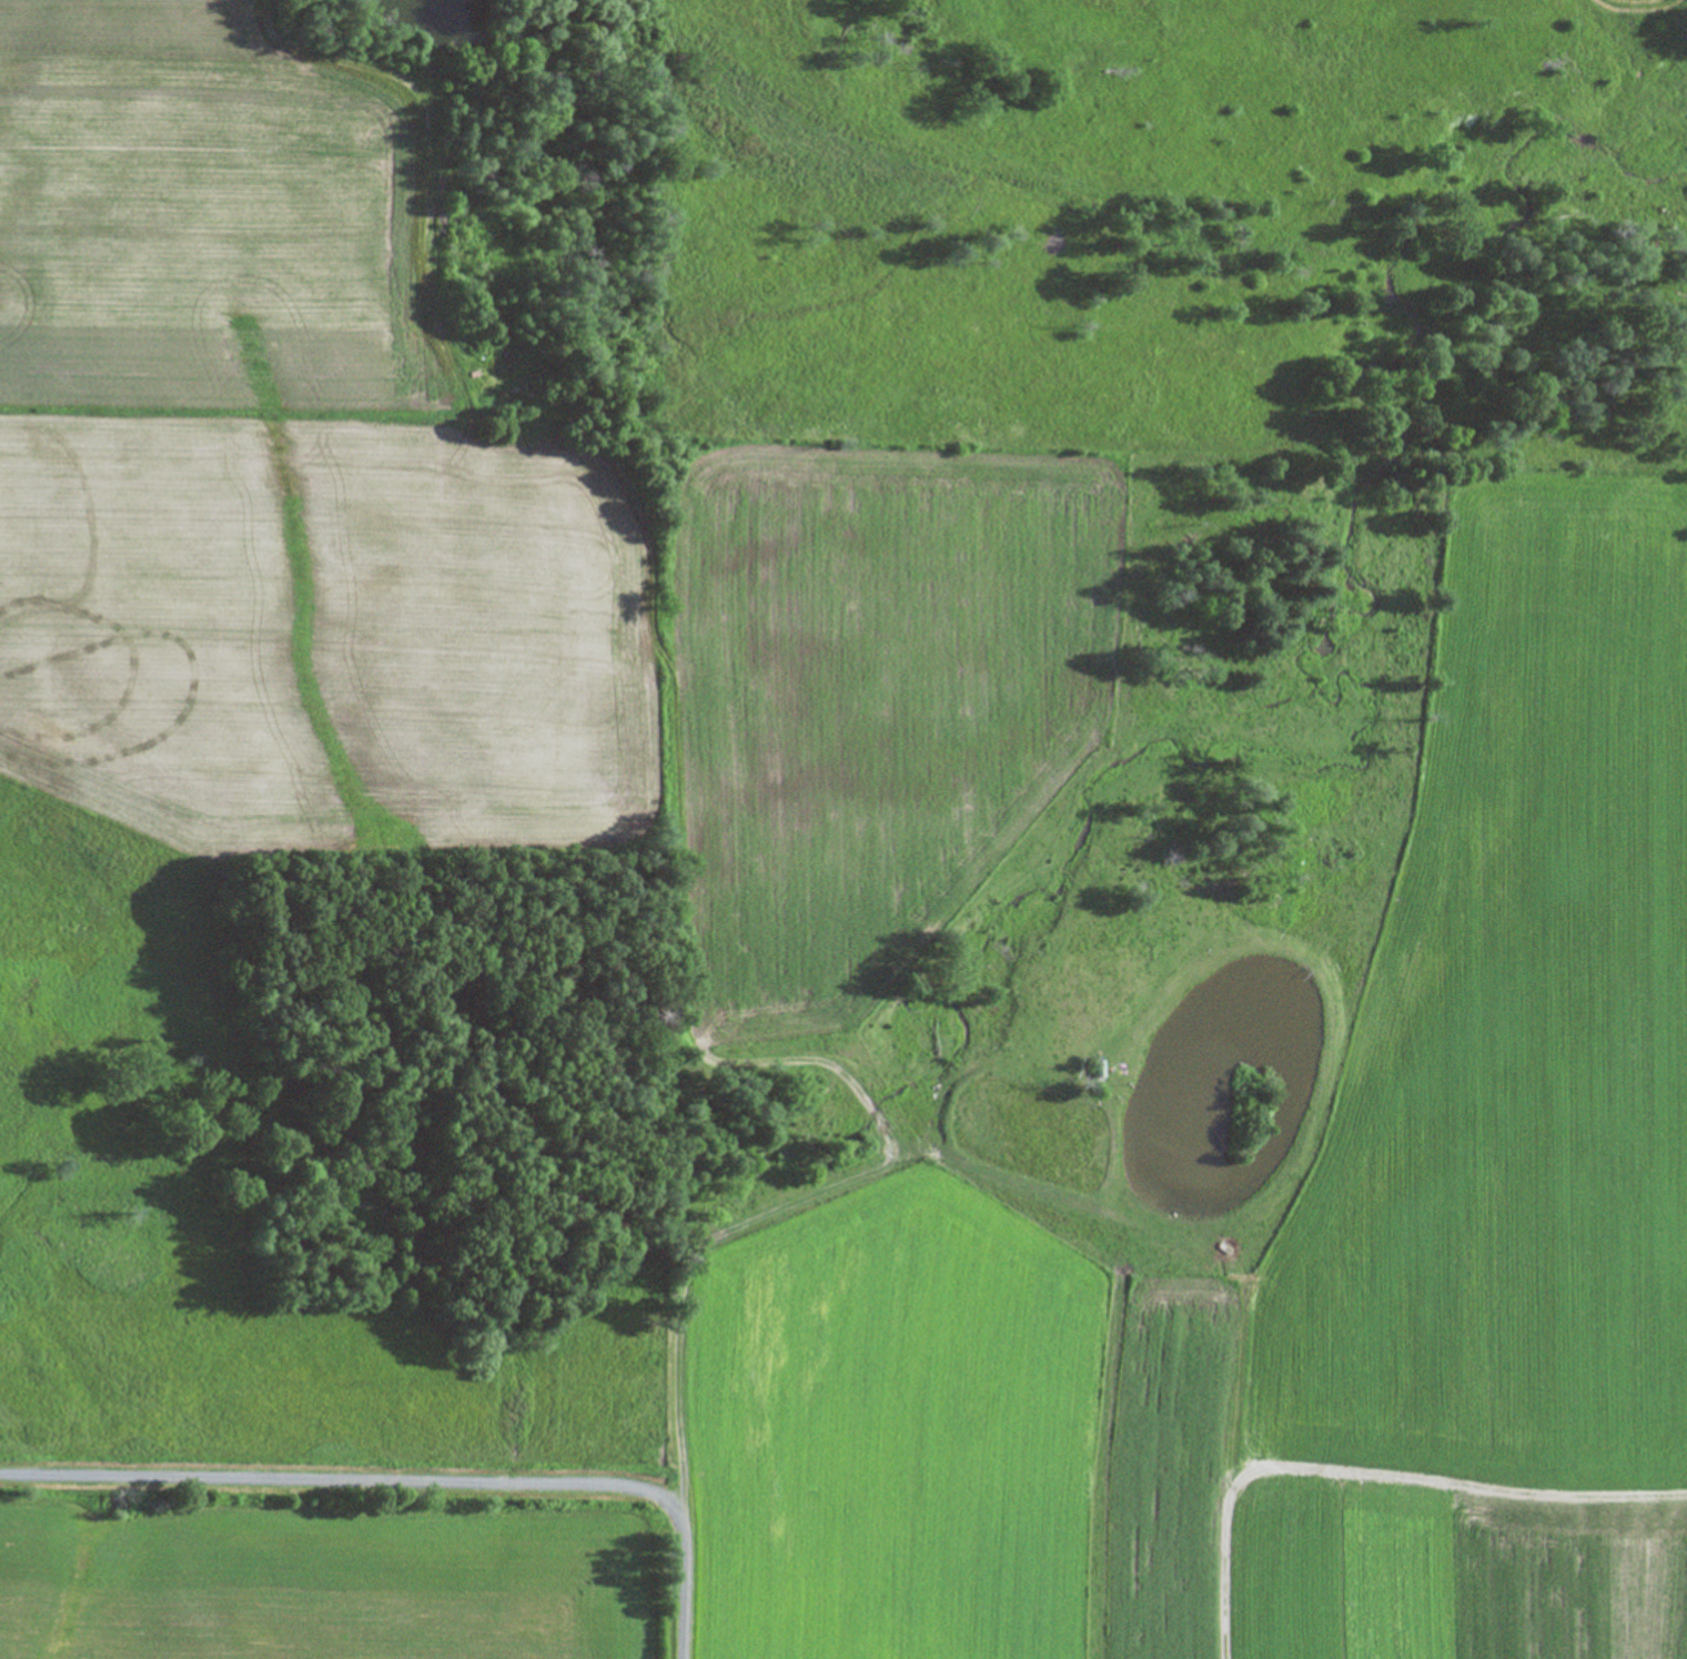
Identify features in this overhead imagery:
building: (1098, 1070)
road: (346, 1484)
road: (679, 1595)

